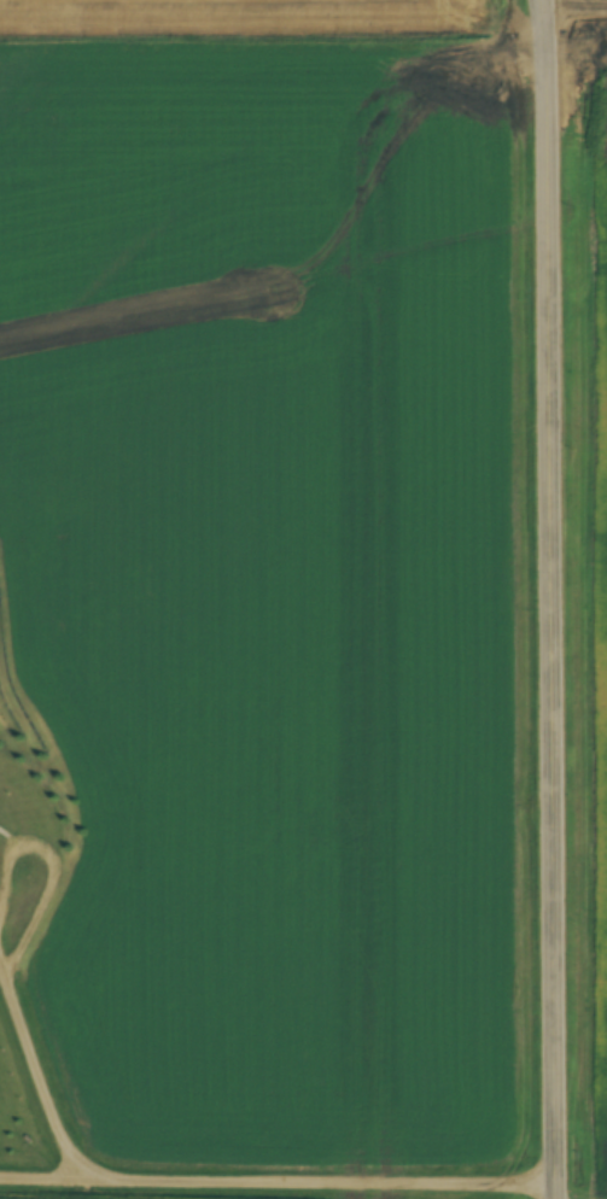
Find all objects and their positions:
road: (551, 11)
road: (553, 11)
road: (558, 610)

